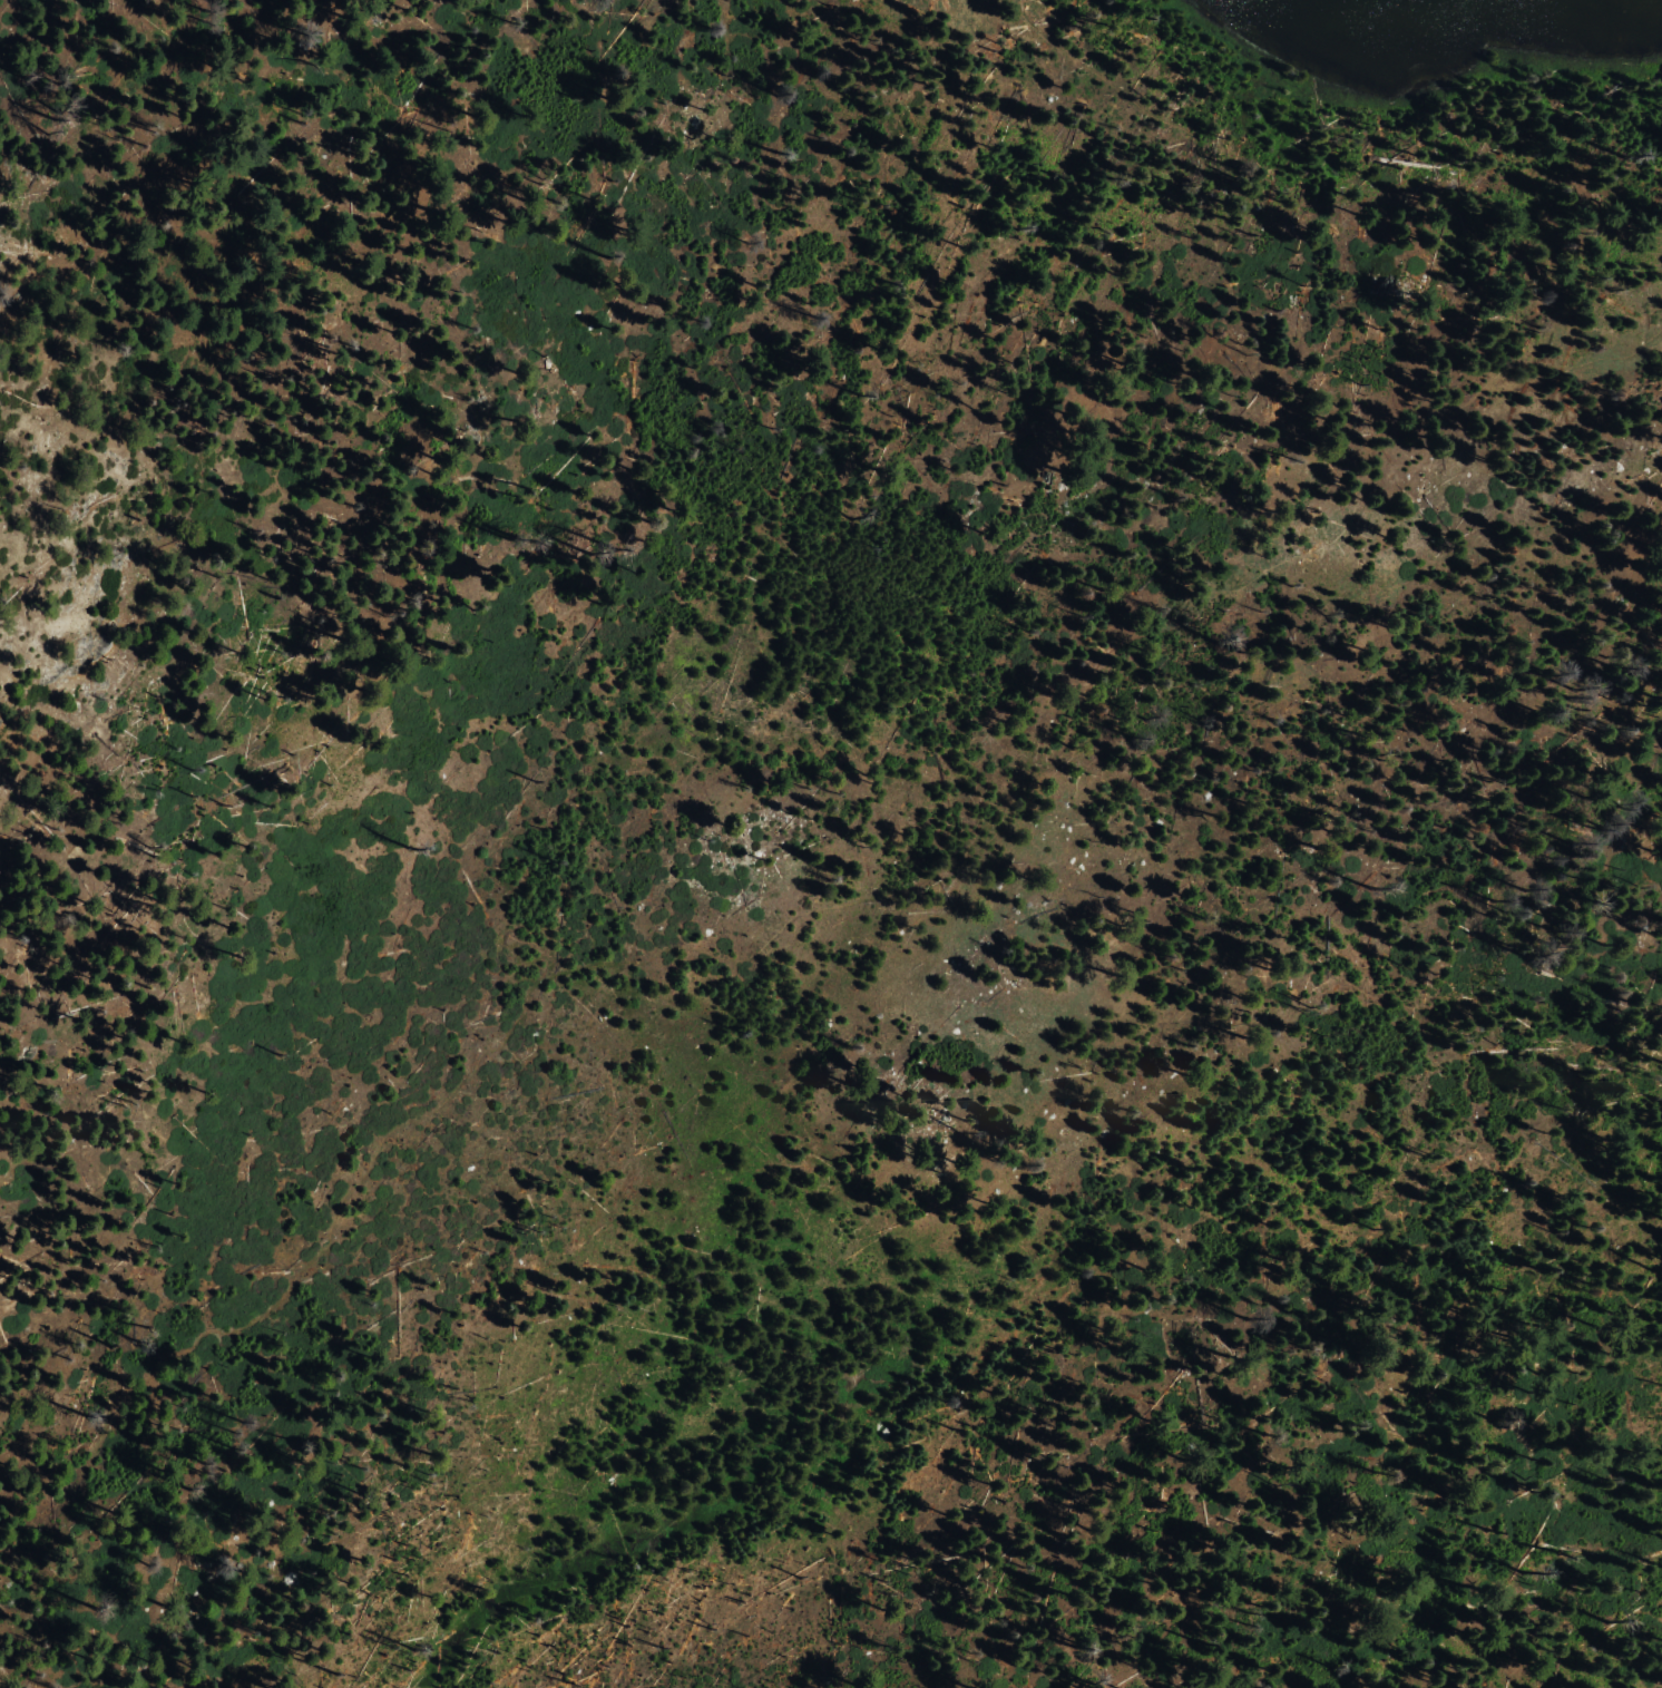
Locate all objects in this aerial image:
road: (1214, 196)
road: (1511, 368)
road: (652, 954)

